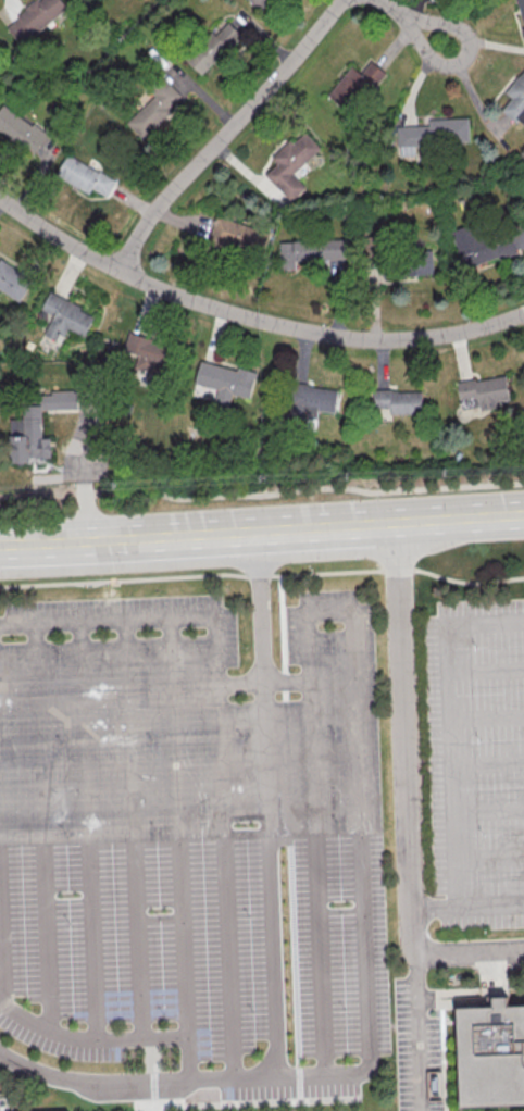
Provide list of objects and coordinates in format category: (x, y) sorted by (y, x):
building: (264, 2)
building: (521, 10)
building: (35, 17)
road: (412, 22)
building: (213, 49)
building: (354, 86)
building: (515, 99)
building: (154, 110)
building: (20, 128)
road: (227, 133)
building: (432, 134)
building: (290, 164)
building: (84, 175)
building: (238, 235)
building: (482, 245)
building: (310, 250)
building: (416, 262)
building: (13, 280)
road: (249, 313)
building: (65, 317)
building: (147, 354)
building: (225, 380)
building: (483, 391)
building: (310, 400)
building: (398, 400)
building: (38, 423)
road: (85, 470)
road: (261, 494)
road: (262, 530)
road: (262, 575)
road: (329, 612)
road: (258, 615)
road: (485, 669)
road: (264, 679)
road: (448, 699)
road: (486, 716)
road: (221, 739)
road: (403, 750)
parking lot: (476, 760)
road: (487, 761)
road: (488, 809)
road: (41, 827)
road: (134, 828)
road: (88, 829)
parking lot: (192, 841)
road: (179, 848)
road: (489, 851)
road: (457, 878)
road: (269, 888)
road: (490, 903)
road: (434, 904)
road: (2, 935)
road: (467, 951)
road: (88, 1039)
road: (415, 1044)
parking lot: (413, 1046)
building: (486, 1054)
road: (179, 1081)

